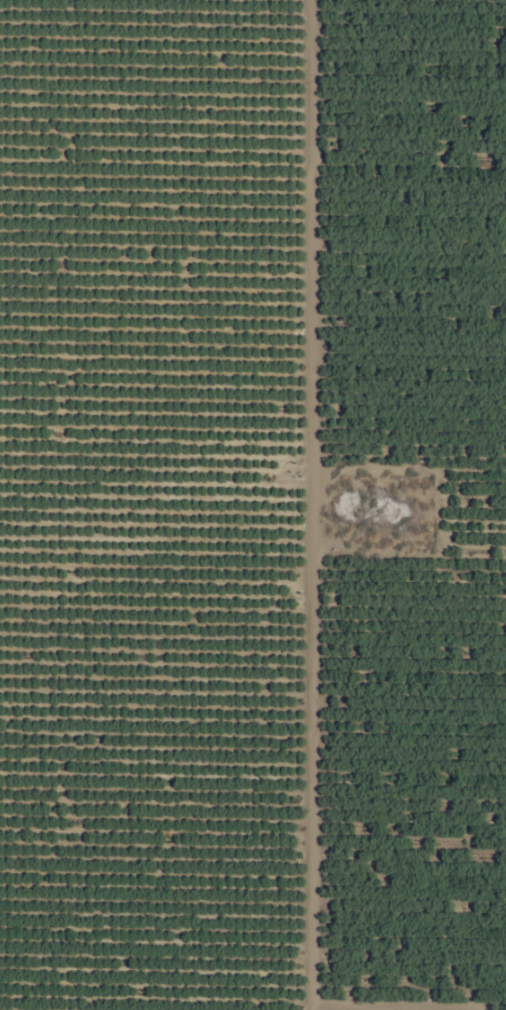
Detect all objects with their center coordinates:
road: (313, 505)

